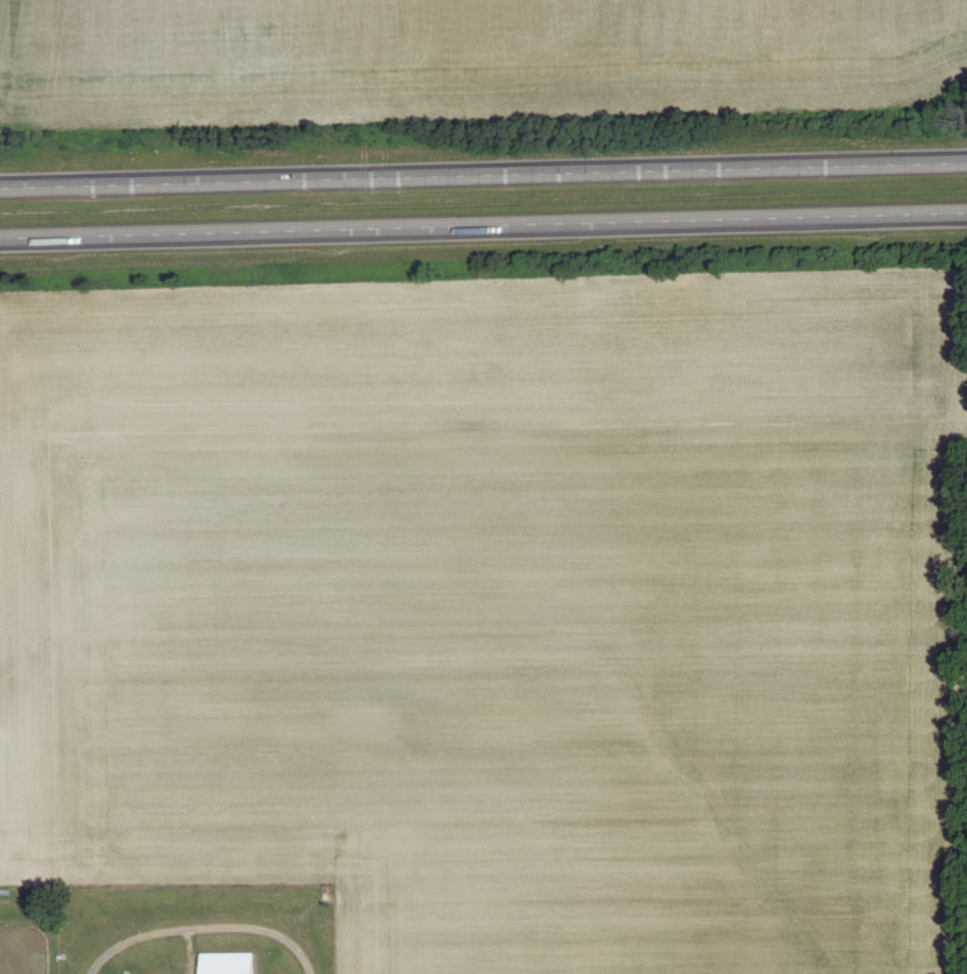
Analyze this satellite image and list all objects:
road: (483, 175)
road: (483, 226)
road: (206, 928)
building: (228, 963)

